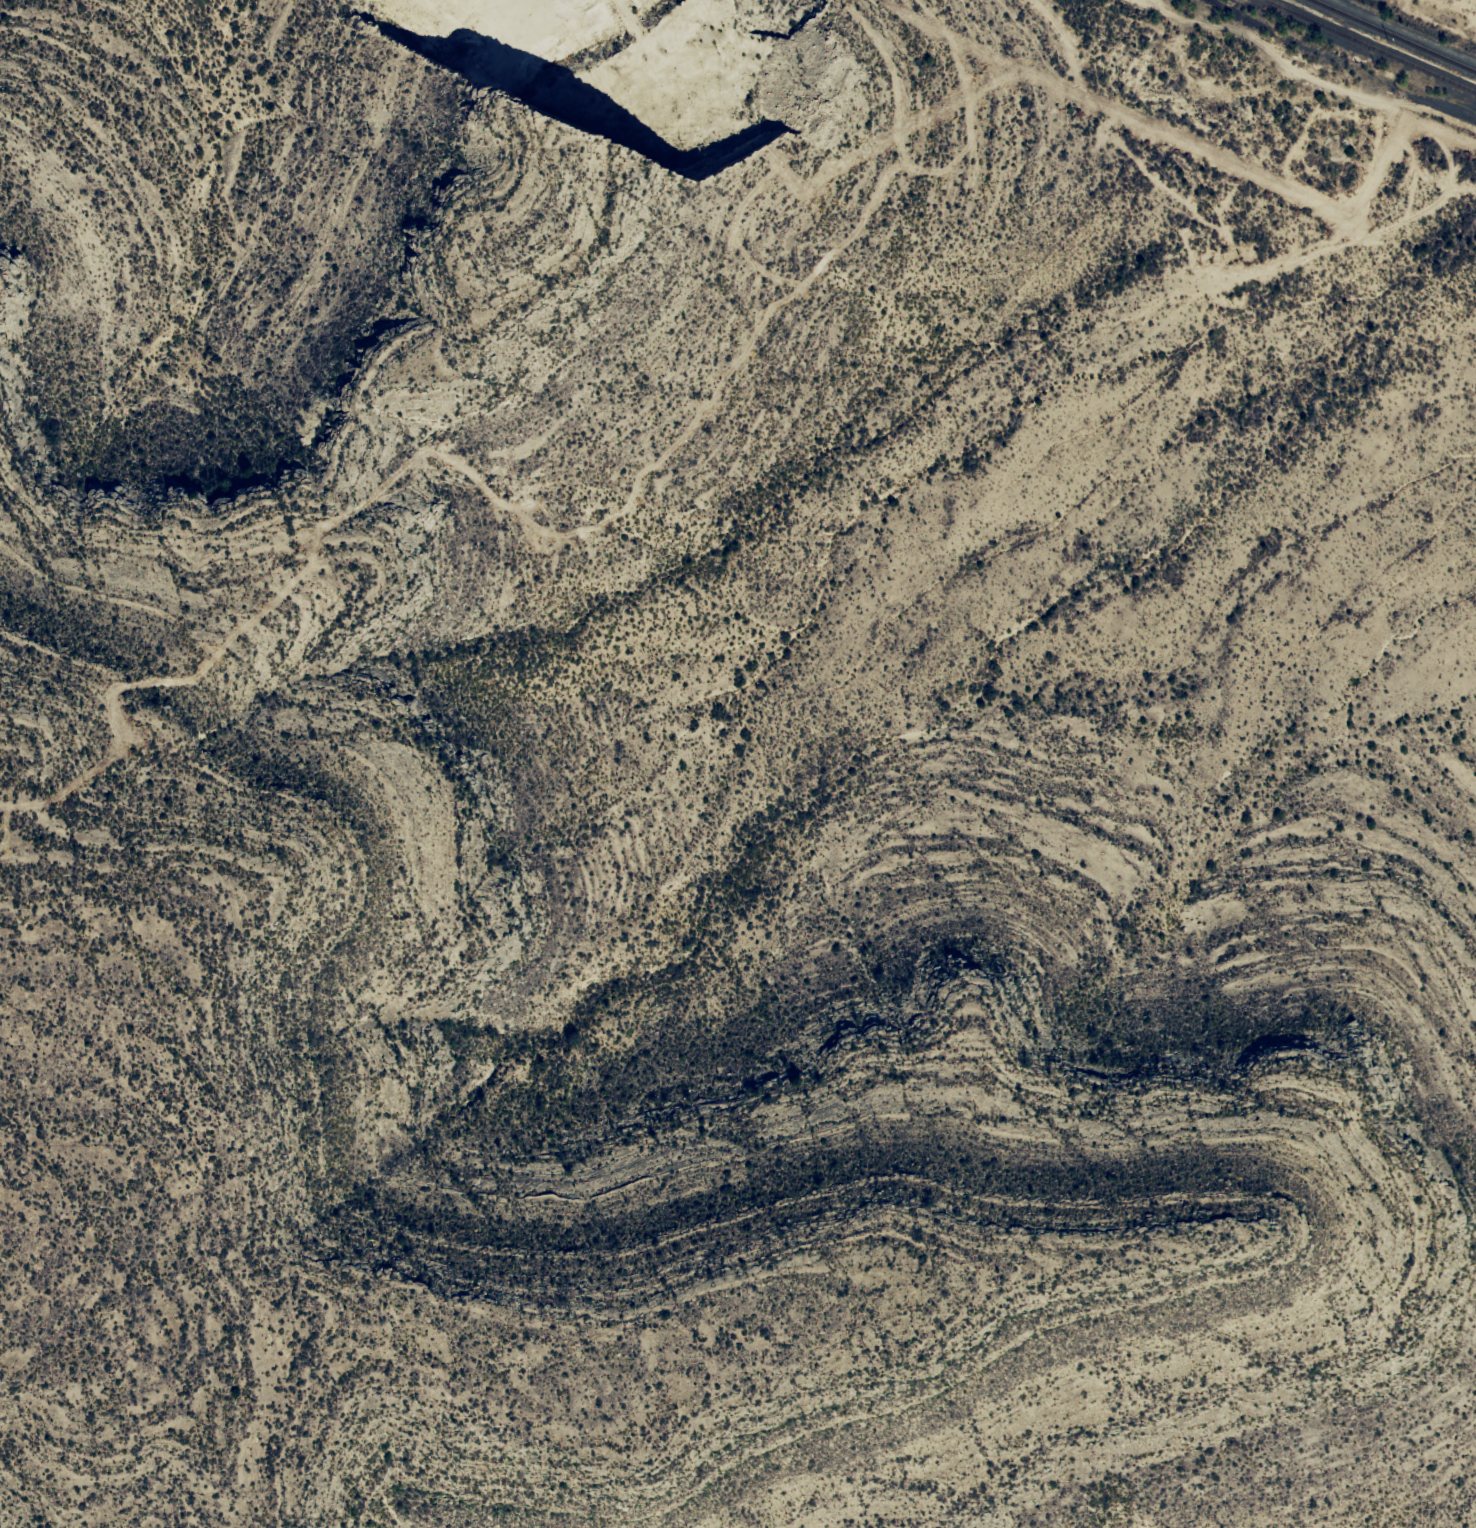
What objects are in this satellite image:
railway: (1394, 35)
railway: (1371, 45)

